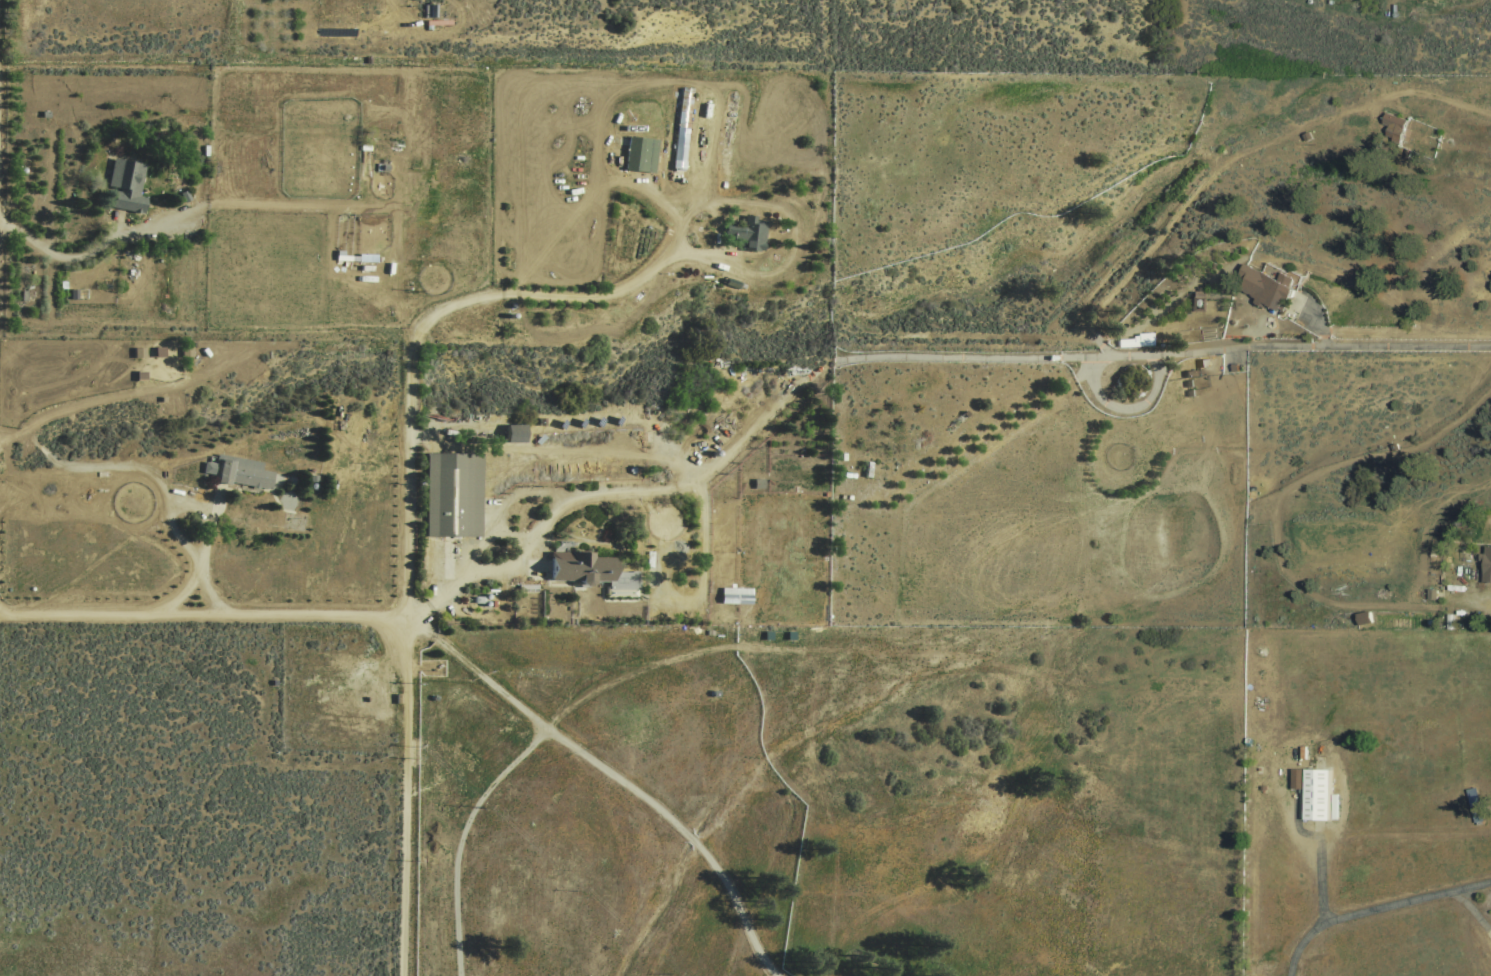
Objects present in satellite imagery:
building: (1392, 127)
building: (680, 144)
building: (641, 152)
building: (124, 186)
building: (747, 232)
road: (56, 254)
building: (1263, 288)
road: (413, 325)
building: (1135, 341)
road: (903, 359)
building: (510, 434)
building: (208, 466)
building: (243, 471)
building: (453, 495)
road: (195, 509)
building: (1485, 564)
building: (576, 567)
road: (196, 578)
building: (736, 594)
road: (204, 616)
road: (613, 778)
building: (1314, 796)
road: (406, 797)
road: (464, 836)
road: (1320, 852)
road: (1473, 911)
road: (1377, 912)

